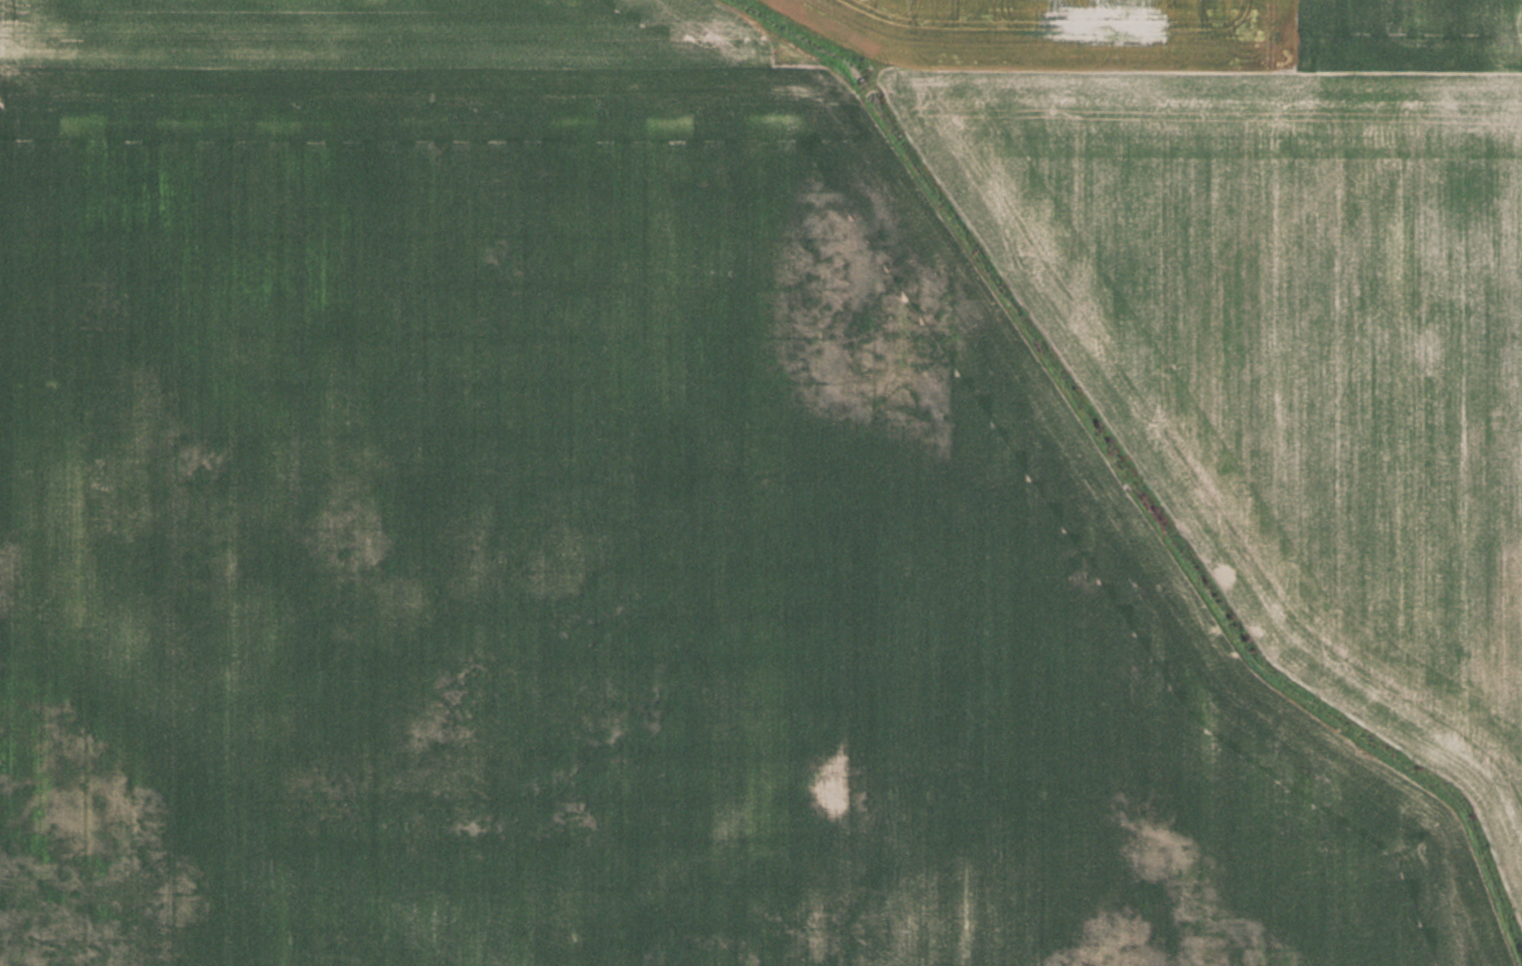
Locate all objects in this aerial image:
crop: (1277, 308)
crop: (592, 537)

